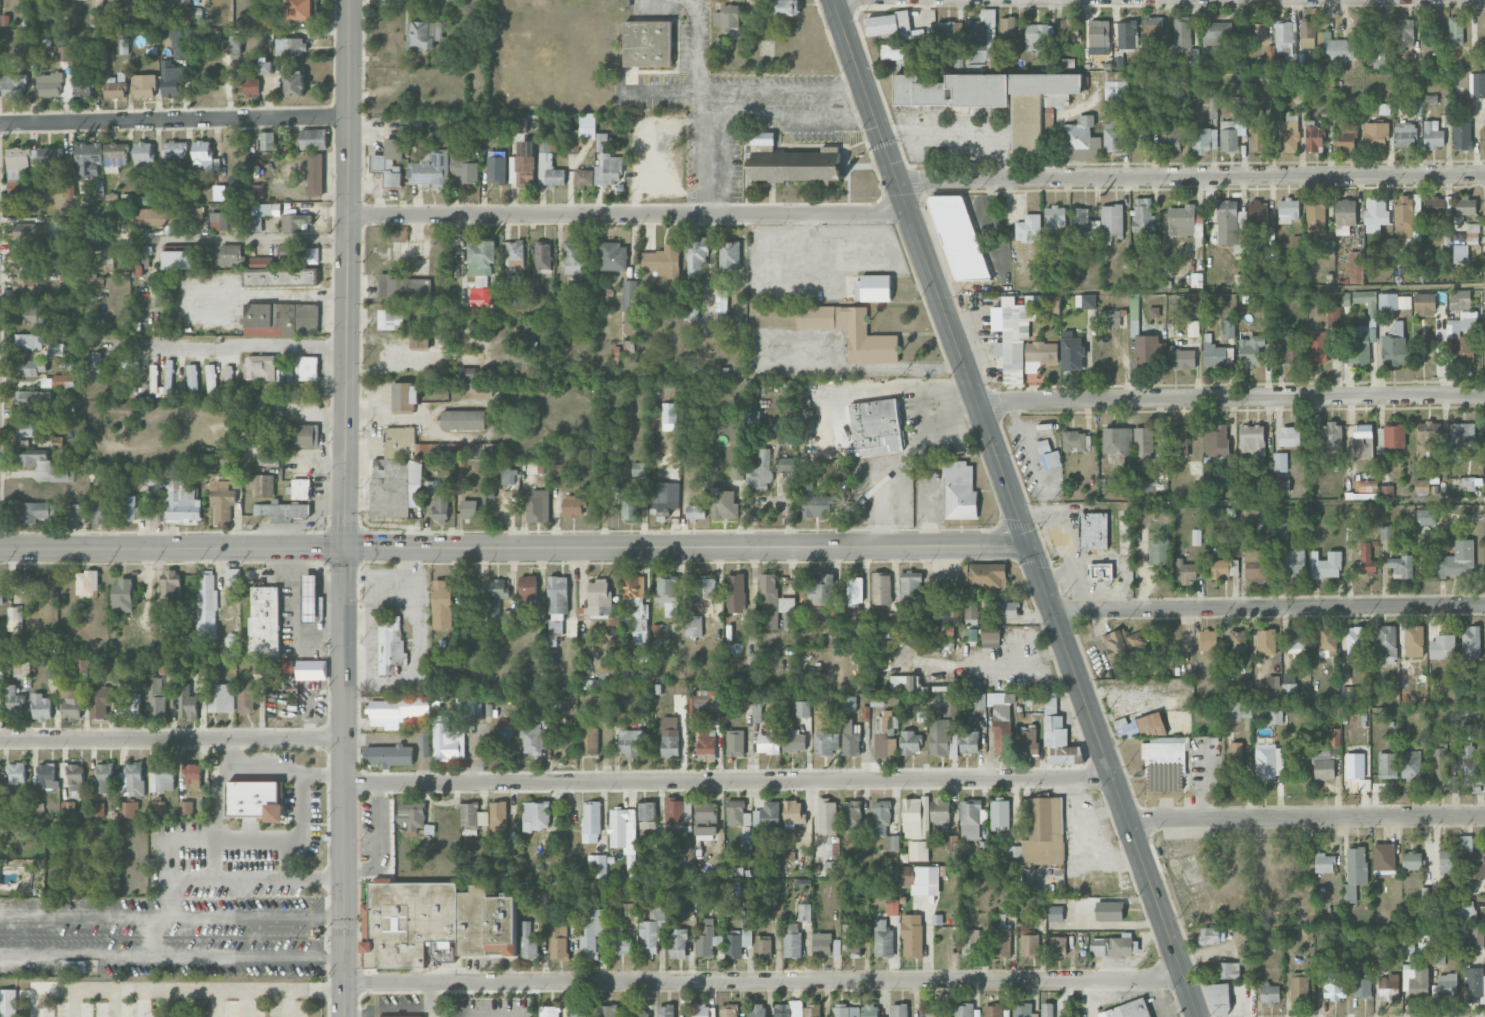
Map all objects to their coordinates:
building: (782, 7)
building: (301, 9)
building: (728, 19)
building: (268, 22)
building: (888, 25)
building: (1008, 28)
building: (1153, 28)
building: (1069, 30)
building: (1456, 30)
building: (982, 31)
building: (1256, 31)
building: (1215, 32)
building: (1307, 33)
building: (423, 34)
building: (1127, 34)
building: (1182, 34)
building: (1404, 34)
building: (1378, 35)
building: (1097, 36)
building: (1039, 38)
building: (945, 39)
building: (1285, 41)
building: (648, 43)
building: (177, 44)
building: (234, 44)
building: (123, 46)
building: (290, 46)
building: (1337, 48)
building: (901, 52)
building: (64, 53)
building: (1475, 57)
building: (266, 67)
building: (631, 74)
building: (1116, 76)
building: (171, 80)
building: (49, 84)
building: (249, 84)
building: (292, 84)
building: (13, 85)
building: (144, 85)
building: (1477, 85)
building: (115, 86)
building: (83, 88)
building: (986, 89)
building: (1117, 95)
road: (784, 97)
road: (701, 105)
building: (1239, 109)
road: (175, 119)
building: (417, 122)
building: (519, 124)
building: (584, 129)
building: (1140, 133)
building: (1288, 133)
building: (1376, 134)
building: (1405, 134)
building: (1113, 135)
building: (1169, 135)
building: (1228, 135)
building: (1432, 135)
building: (1462, 135)
building: (1347, 137)
building: (1083, 138)
building: (1257, 138)
building: (1314, 138)
building: (313, 139)
building: (1203, 139)
building: (267, 140)
building: (601, 142)
building: (174, 150)
building: (116, 154)
building: (144, 155)
building: (204, 157)
building: (50, 158)
building: (88, 161)
building: (390, 162)
building: (791, 163)
building: (548, 166)
building: (496, 167)
building: (430, 168)
building: (463, 168)
building: (19, 169)
building: (522, 170)
building: (608, 170)
building: (315, 174)
road: (1192, 176)
building: (584, 177)
building: (68, 190)
building: (258, 191)
building: (219, 192)
building: (150, 198)
building: (1466, 205)
building: (1436, 207)
building: (1288, 210)
building: (261, 213)
building: (196, 214)
building: (1142, 214)
building: (168, 215)
road: (630, 215)
building: (1257, 215)
building: (1375, 215)
building: (147, 216)
building: (1055, 216)
building: (1316, 216)
building: (1344, 216)
building: (1404, 217)
building: (219, 220)
building: (1112, 220)
building: (1181, 220)
building: (296, 221)
building: (1231, 222)
building: (1085, 225)
building: (1028, 228)
building: (30, 231)
building: (1472, 231)
building: (959, 237)
building: (1444, 237)
building: (93, 239)
road: (254, 240)
building: (1327, 246)
building: (108, 251)
building: (1460, 253)
building: (34, 255)
building: (231, 255)
building: (310, 255)
building: (542, 255)
building: (729, 255)
building: (613, 256)
building: (574, 257)
building: (696, 258)
building: (140, 259)
building: (178, 259)
building: (513, 259)
building: (663, 261)
building: (1356, 267)
building: (480, 269)
road: (347, 272)
building: (277, 273)
building: (1196, 273)
building: (1240, 280)
building: (28, 286)
building: (403, 287)
building: (872, 288)
road: (268, 294)
building: (629, 295)
building: (1459, 299)
building: (1085, 301)
building: (1392, 301)
building: (1424, 304)
building: (1053, 306)
building: (1135, 306)
building: (692, 308)
building: (1154, 312)
building: (722, 313)
building: (31, 314)
building: (391, 318)
building: (1110, 318)
building: (281, 319)
building: (456, 324)
building: (1192, 328)
building: (1228, 328)
building: (1362, 329)
building: (851, 332)
building: (1015, 335)
building: (1460, 337)
road: (377, 339)
building: (30, 341)
building: (420, 341)
building: (1393, 343)
road: (262, 345)
building: (1290, 347)
building: (56, 348)
building: (1317, 348)
building: (1148, 349)
building: (1251, 350)
building: (1072, 351)
building: (1217, 353)
building: (1040, 355)
building: (528, 357)
road: (407, 358)
building: (1182, 358)
building: (130, 364)
building: (96, 365)
building: (30, 367)
building: (260, 368)
building: (309, 368)
building: (466, 373)
building: (229, 375)
building: (193, 377)
building: (211, 378)
building: (63, 380)
building: (169, 380)
building: (155, 381)
building: (47, 382)
road: (881, 383)
building: (478, 390)
road: (1234, 396)
building: (405, 397)
building: (32, 398)
building: (270, 409)
building: (669, 412)
building: (463, 419)
building: (875, 427)
building: (28, 428)
building: (1362, 431)
building: (302, 435)
building: (1289, 436)
building: (1394, 436)
building: (1429, 437)
building: (1217, 439)
building: (1332, 439)
building: (1075, 440)
building: (1252, 440)
building: (1117, 441)
building: (1178, 441)
building: (1461, 442)
building: (1143, 444)
building: (487, 449)
road: (904, 455)
building: (1049, 455)
building: (269, 457)
building: (1280, 462)
building: (785, 464)
building: (47, 468)
building: (560, 469)
building: (736, 472)
building: (759, 472)
building: (398, 474)
building: (509, 476)
building: (1141, 480)
building: (1468, 481)
building: (263, 485)
building: (1282, 485)
building: (1421, 486)
building: (1362, 487)
building: (301, 488)
building: (960, 491)
building: (1385, 491)
building: (225, 497)
building: (659, 498)
building: (816, 502)
building: (182, 503)
building: (724, 504)
building: (537, 506)
building: (573, 506)
building: (441, 507)
building: (630, 507)
road: (1021, 507)
building: (133, 508)
building: (469, 508)
building: (99, 509)
building: (36, 511)
building: (282, 511)
building: (72, 512)
building: (695, 512)
building: (1426, 517)
building: (1281, 528)
building: (1091, 530)
building: (1386, 532)
building: (1196, 537)
road: (688, 544)
road: (172, 546)
traffic signals: (344, 546)
building: (1158, 550)
building: (1367, 559)
building: (1456, 559)
building: (1295, 562)
building: (1258, 565)
building: (1326, 565)
building: (1401, 566)
building: (1224, 568)
building: (1100, 571)
building: (1185, 571)
building: (232, 575)
building: (987, 575)
building: (87, 582)
building: (25, 583)
building: (171, 583)
building: (910, 585)
building: (528, 587)
building: (821, 588)
building: (881, 588)
building: (854, 589)
building: (704, 591)
building: (735, 592)
building: (1, 594)
building: (123, 594)
building: (496, 595)
building: (668, 595)
building: (310, 597)
building: (558, 597)
building: (600, 602)
building: (207, 604)
building: (442, 604)
building: (774, 605)
road: (1271, 606)
building: (636, 607)
building: (971, 609)
building: (1003, 609)
building: (509, 615)
building: (14, 618)
building: (265, 621)
building: (693, 626)
building: (947, 631)
building: (972, 634)
building: (990, 636)
building: (1207, 639)
building: (1296, 639)
building: (1355, 640)
building: (1327, 641)
building: (1414, 641)
building: (1123, 642)
building: (1266, 642)
building: (1471, 642)
building: (390, 643)
building: (1387, 644)
building: (231, 645)
building: (1237, 645)
building: (1442, 646)
building: (451, 664)
building: (168, 666)
building: (21, 667)
building: (312, 669)
building: (608, 671)
building: (272, 680)
building: (904, 682)
building: (590, 684)
building: (1289, 684)
building: (1349, 692)
building: (157, 697)
building: (247, 697)
building: (14, 698)
building: (221, 698)
building: (100, 701)
building: (706, 701)
building: (980, 701)
building: (72, 703)
building: (187, 703)
building: (849, 703)
building: (130, 704)
building: (950, 705)
building: (469, 706)
building: (42, 707)
building: (543, 707)
building: (802, 709)
building: (397, 710)
building: (1238, 710)
building: (757, 711)
building: (1275, 716)
building: (1146, 726)
building: (1001, 728)
building: (1058, 734)
building: (886, 735)
building: (670, 736)
building: (1334, 736)
building: (850, 737)
building: (534, 738)
building: (942, 738)
road: (171, 739)
building: (446, 741)
building: (589, 741)
building: (769, 741)
building: (969, 741)
building: (1028, 741)
building: (629, 742)
building: (706, 742)
building: (735, 742)
building: (794, 742)
building: (910, 742)
building: (826, 743)
building: (389, 756)
building: (1234, 758)
building: (1268, 761)
building: (1439, 762)
building: (1164, 763)
building: (1323, 764)
building: (1354, 765)
building: (1388, 765)
building: (1411, 765)
road: (285, 768)
building: (1471, 768)
building: (17, 773)
building: (192, 775)
building: (47, 776)
building: (100, 777)
building: (162, 777)
building: (133, 778)
road: (731, 779)
building: (76, 780)
road: (344, 781)
building: (1364, 784)
building: (255, 800)
building: (68, 807)
building: (38, 808)
building: (157, 808)
building: (186, 808)
building: (128, 809)
building: (674, 810)
building: (793, 812)
building: (853, 812)
building: (737, 813)
building: (940, 813)
building: (999, 813)
building: (412, 815)
building: (536, 815)
building: (646, 815)
building: (767, 815)
road: (1309, 815)
building: (498, 816)
building: (591, 817)
building: (827, 817)
building: (915, 817)
building: (472, 818)
building: (705, 818)
building: (971, 819)
building: (883, 824)
road: (298, 827)
building: (618, 827)
building: (1044, 831)
road: (380, 838)
building: (687, 842)
building: (747, 842)
building: (918, 850)
building: (659, 852)
building: (1384, 858)
building: (1473, 858)
building: (1412, 860)
building: (1449, 861)
building: (1324, 863)
building: (597, 865)
building: (631, 866)
building: (1354, 873)
road: (164, 874)
building: (921, 879)
building: (1441, 888)
building: (893, 907)
building: (1109, 911)
building: (1466, 911)
building: (804, 912)
building: (1055, 913)
road: (172, 914)
road: (294, 921)
building: (435, 923)
building: (651, 930)
building: (590, 931)
road: (254, 934)
building: (912, 935)
building: (1209, 935)
building: (1473, 936)
building: (559, 939)
building: (707, 939)
building: (883, 939)
building: (739, 940)
building: (792, 940)
building: (528, 941)
building: (850, 941)
building: (620, 942)
building: (971, 942)
building: (1001, 942)
building: (677, 943)
building: (822, 944)
building: (1029, 945)
building: (1124, 945)
building: (763, 946)
building: (1058, 946)
building: (1098, 946)
road: (172, 954)
building: (1437, 958)
building: (74, 966)
building: (1227, 970)
road: (767, 979)
building: (1415, 980)
building: (1335, 985)
building: (1362, 985)
building: (1475, 985)
building: (1299, 986)
building: (1447, 986)
building: (1388, 987)
road: (177, 988)
building: (1270, 994)
building: (1219, 999)
building: (8, 1002)
road: (72, 1002)
road: (113, 1002)
road: (246, 1002)
road: (287, 1002)
building: (790, 1009)
building: (1047, 1009)
building: (1128, 1009)
building: (728, 1010)
building: (758, 1010)
building: (811, 1010)
building: (870, 1010)
building: (899, 1010)
building: (934, 1010)
building: (963, 1010)
building: (993, 1010)
building: (1022, 1010)
building: (548, 1011)
building: (608, 1011)
building: (637, 1011)
building: (666, 1011)
building: (702, 1011)
building: (845, 1011)
building: (577, 1014)
building: (417, 1016)

